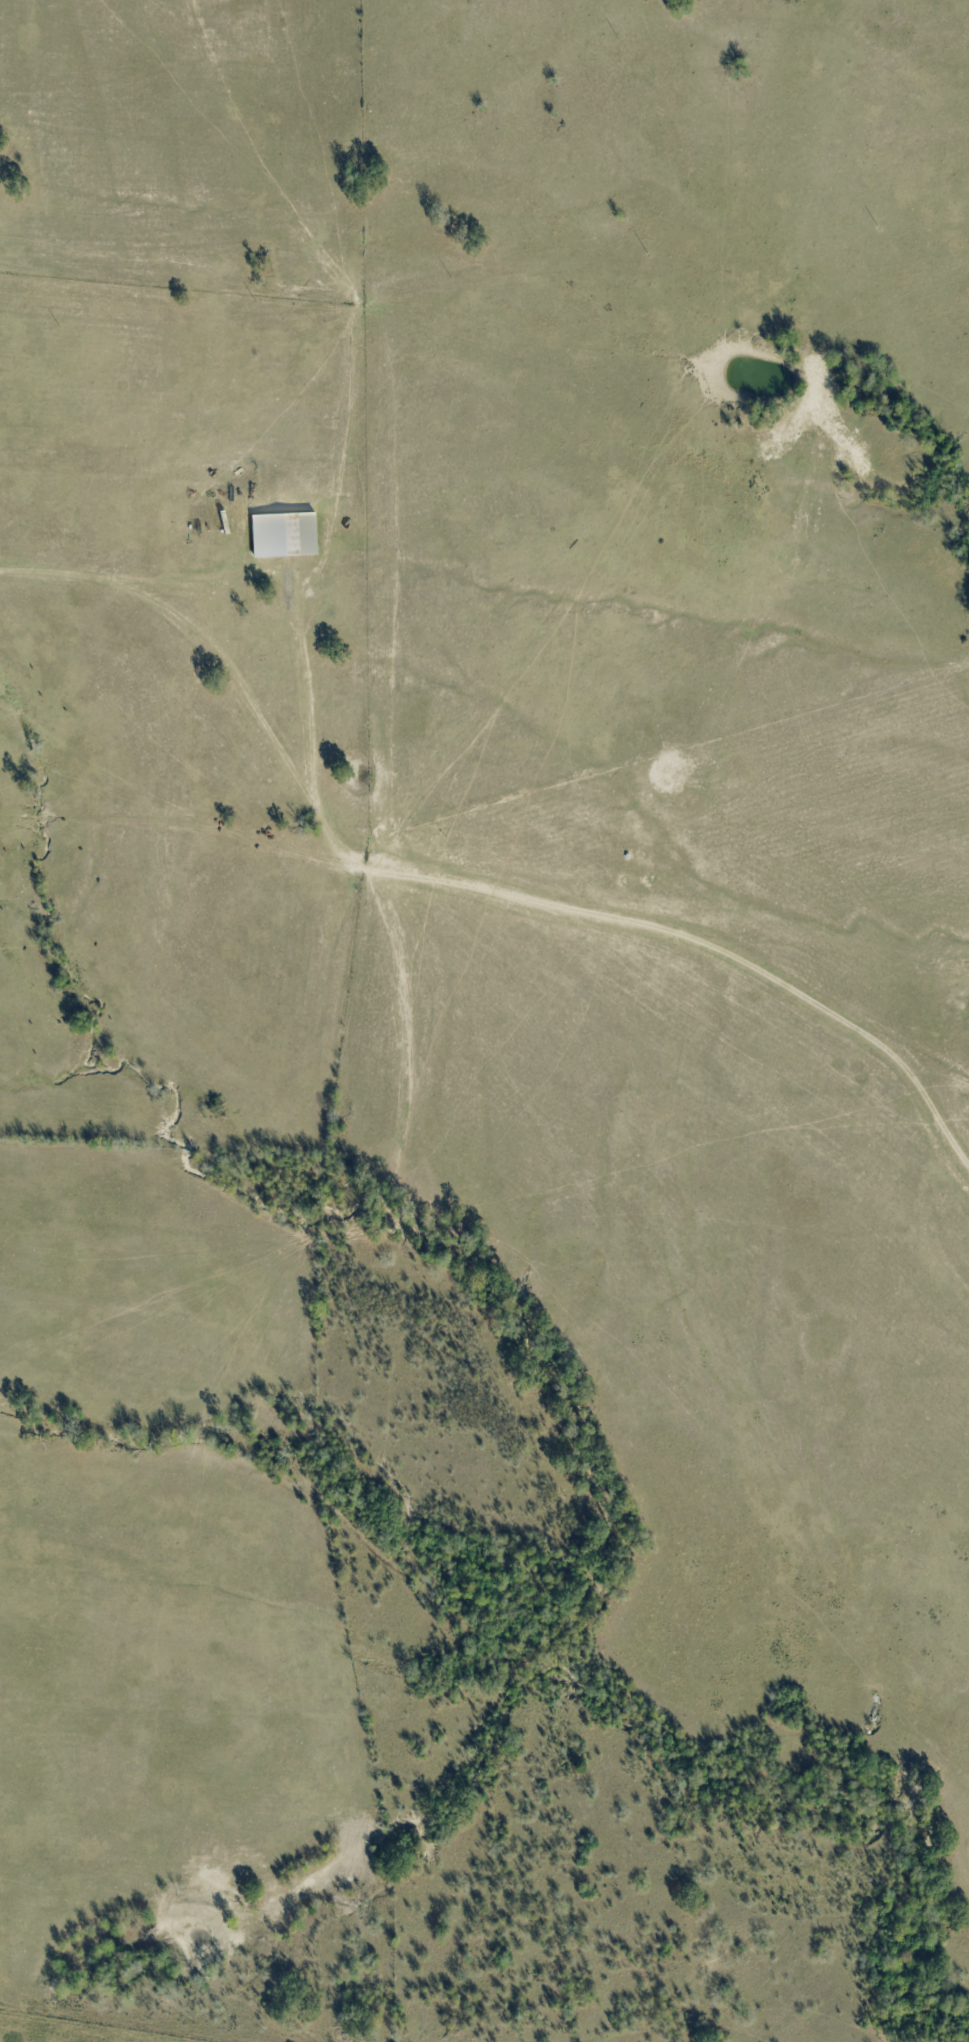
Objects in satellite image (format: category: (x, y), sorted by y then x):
building: (290, 536)
road: (465, 881)

